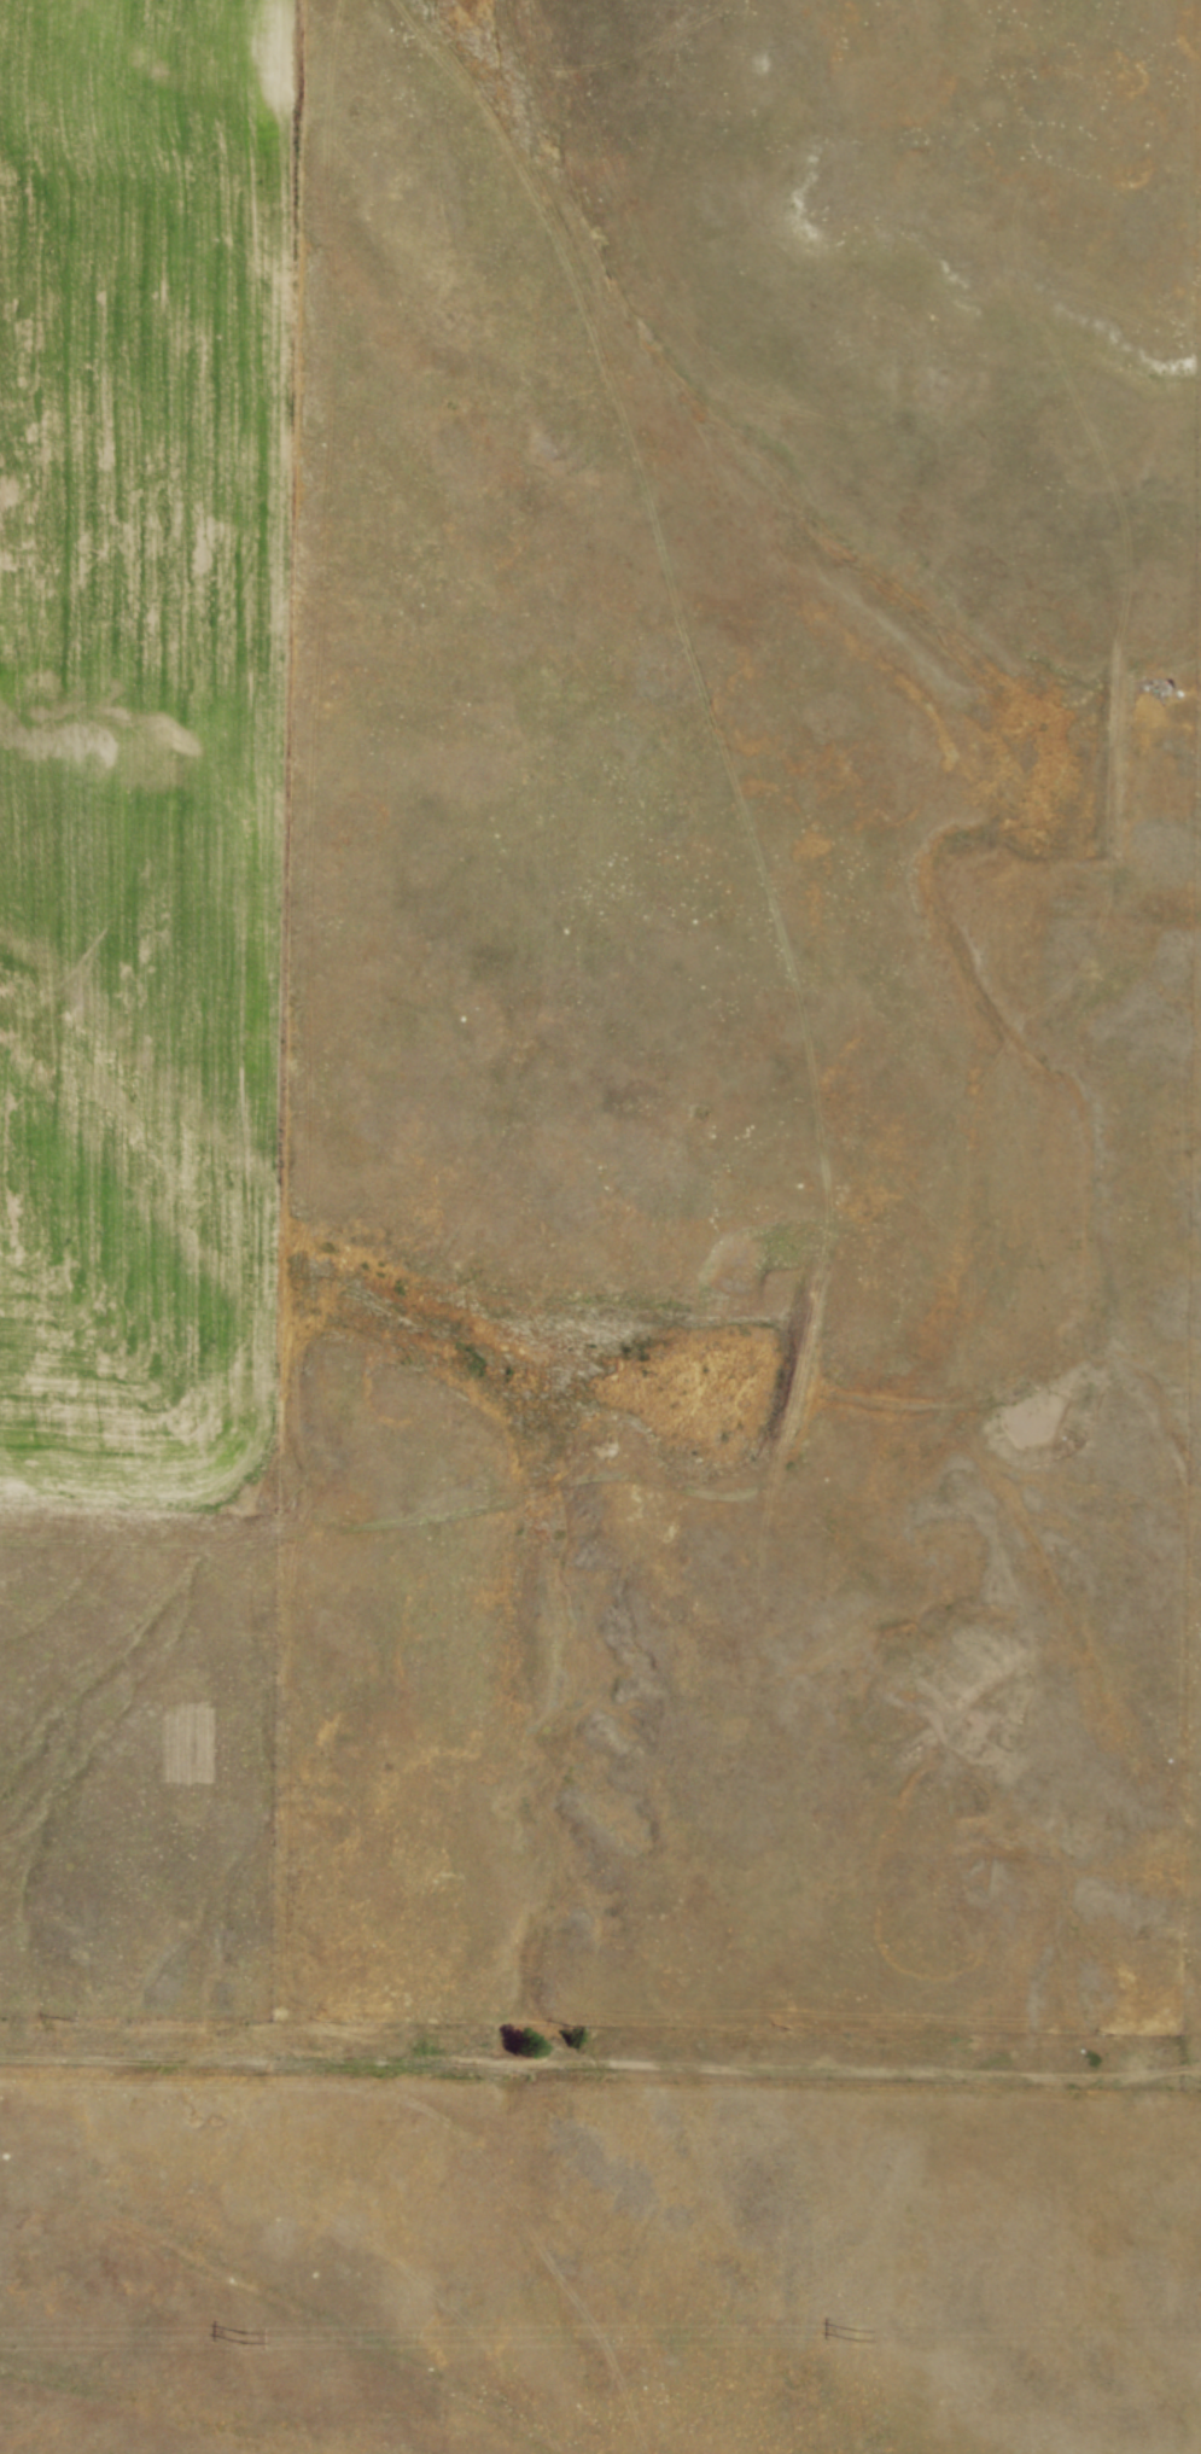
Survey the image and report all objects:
crop: (144, 739)
road: (600, 2065)
power tower: (859, 2336)
power tower: (246, 2338)

